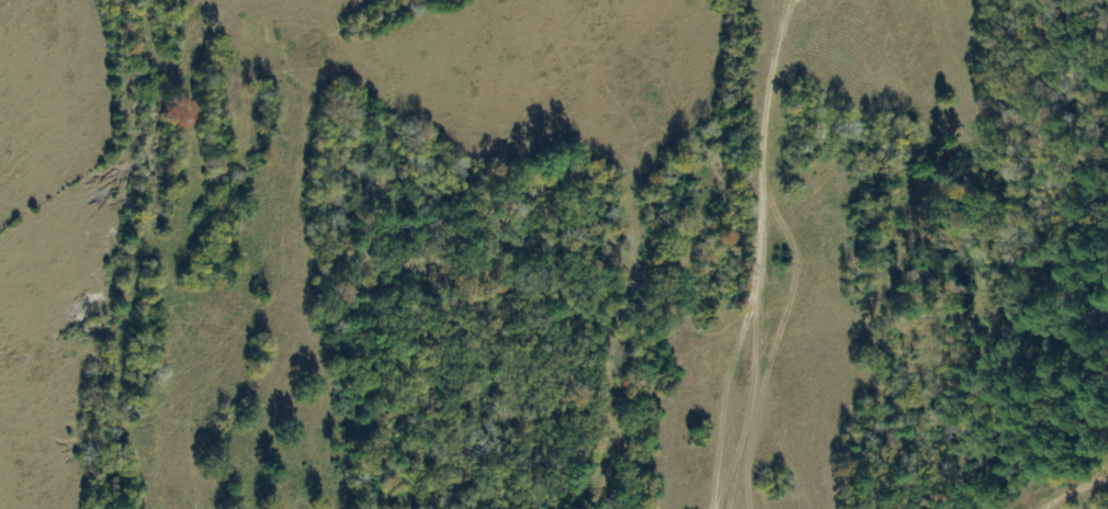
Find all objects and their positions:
road: (1075, 491)

